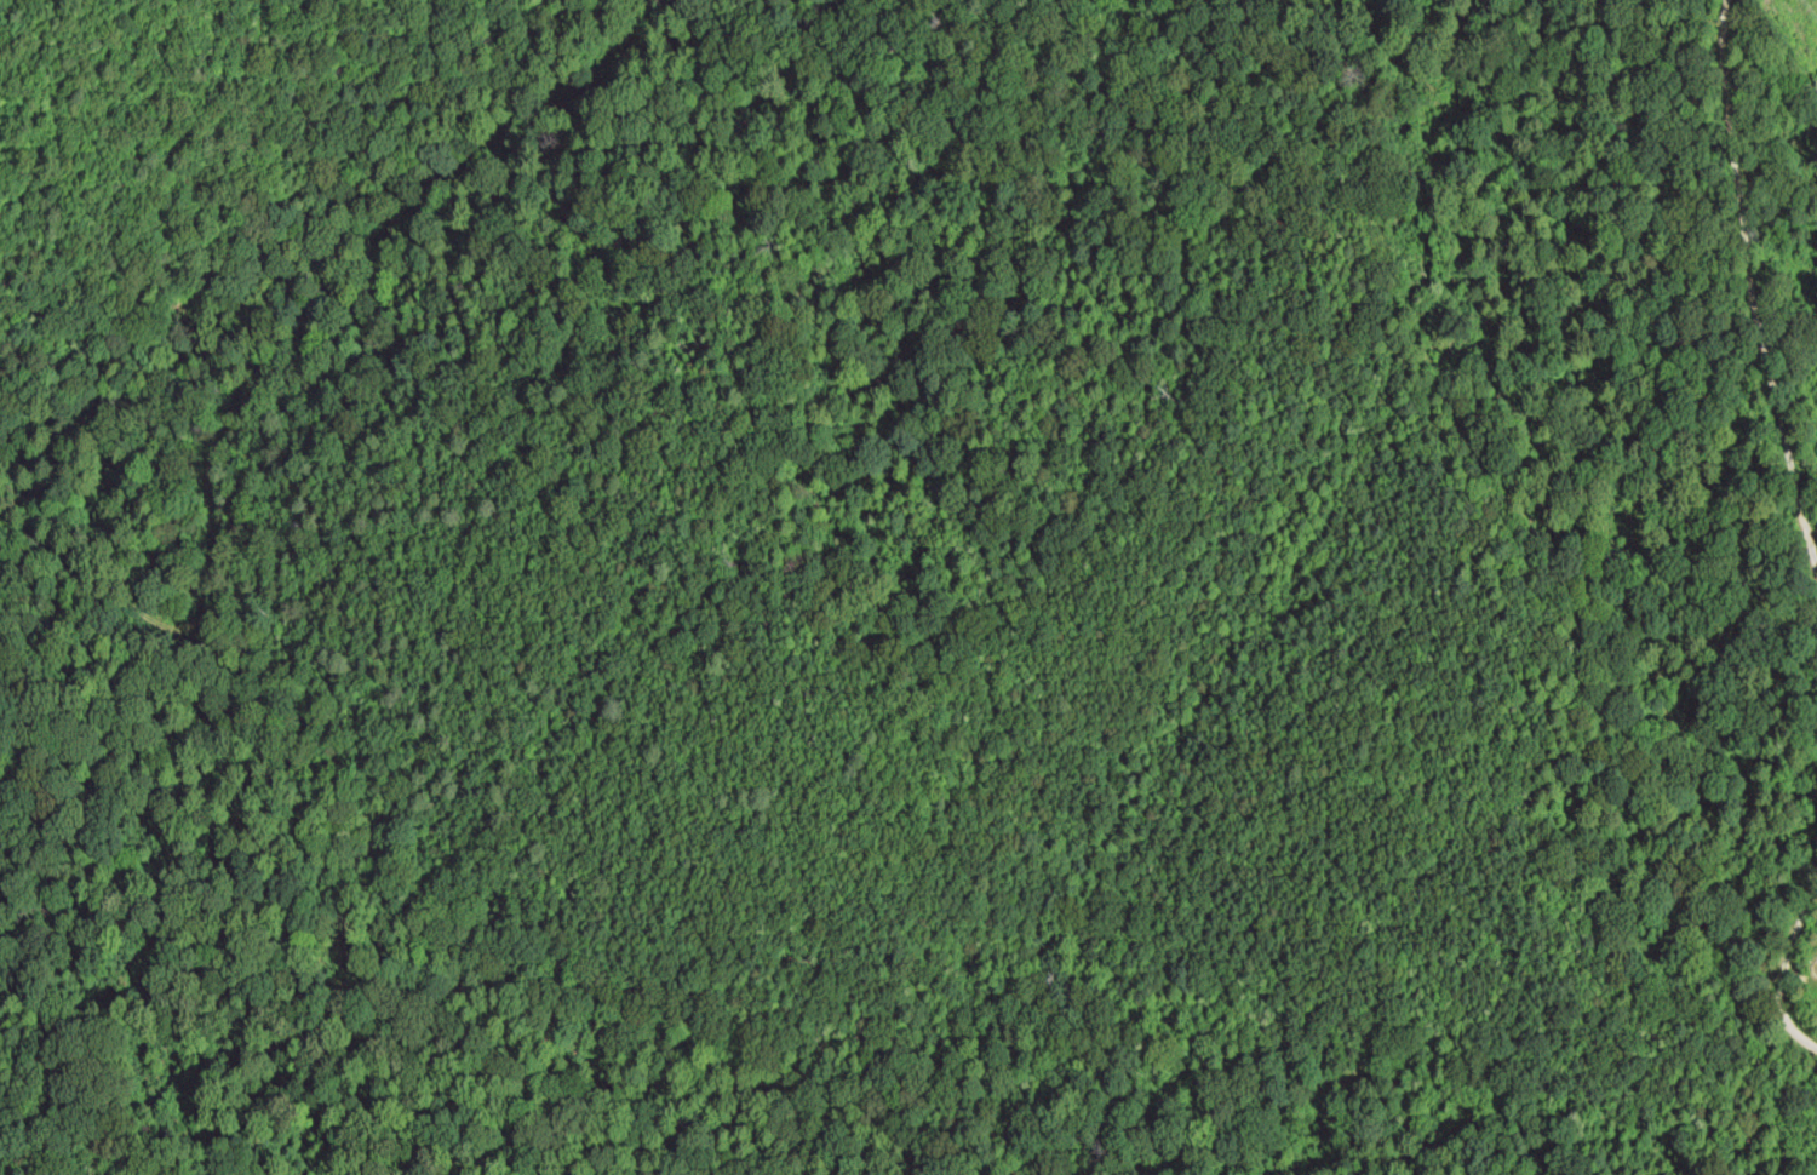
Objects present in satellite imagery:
road: (1765, 319)
road: (1788, 941)

